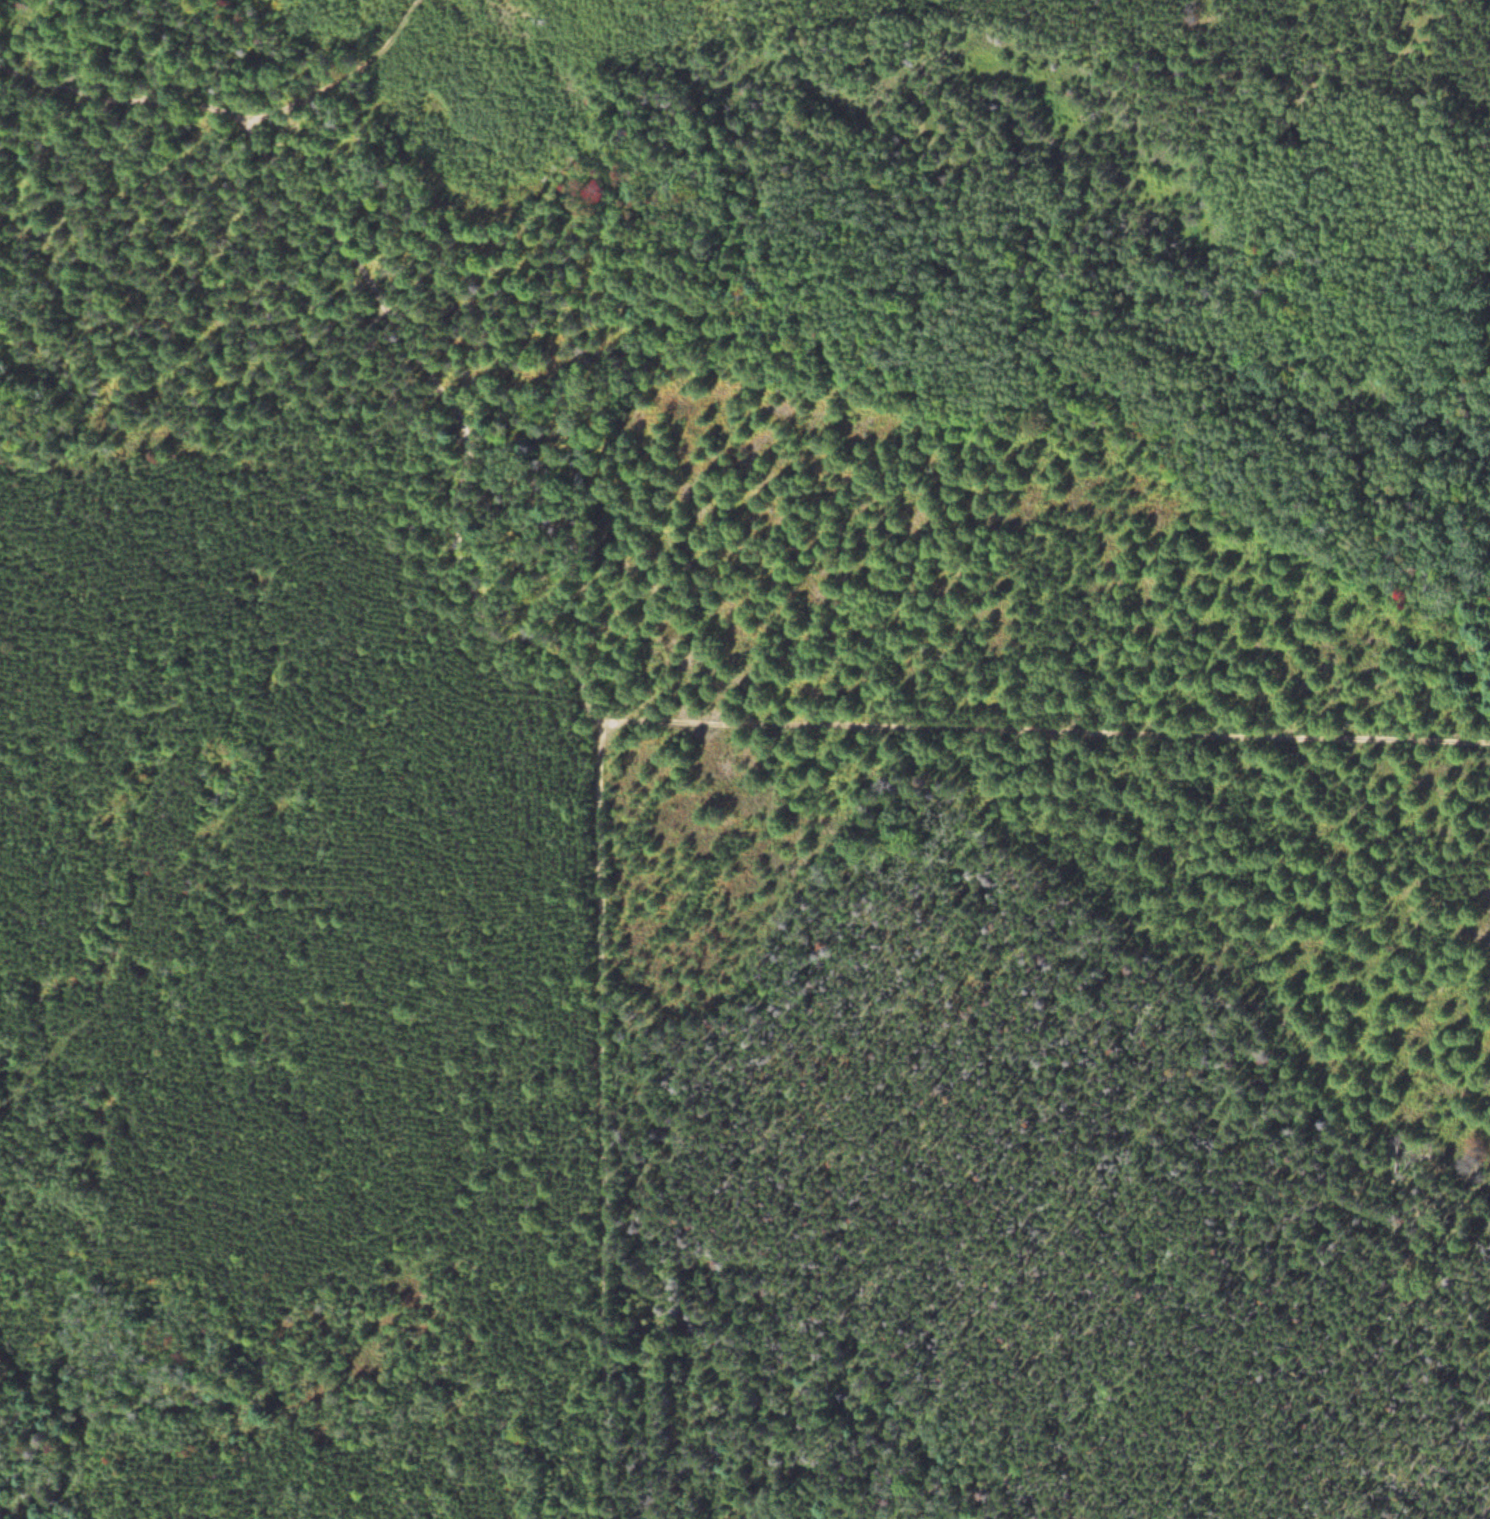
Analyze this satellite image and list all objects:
road: (408, 313)
road: (647, 718)
road: (1152, 1413)

